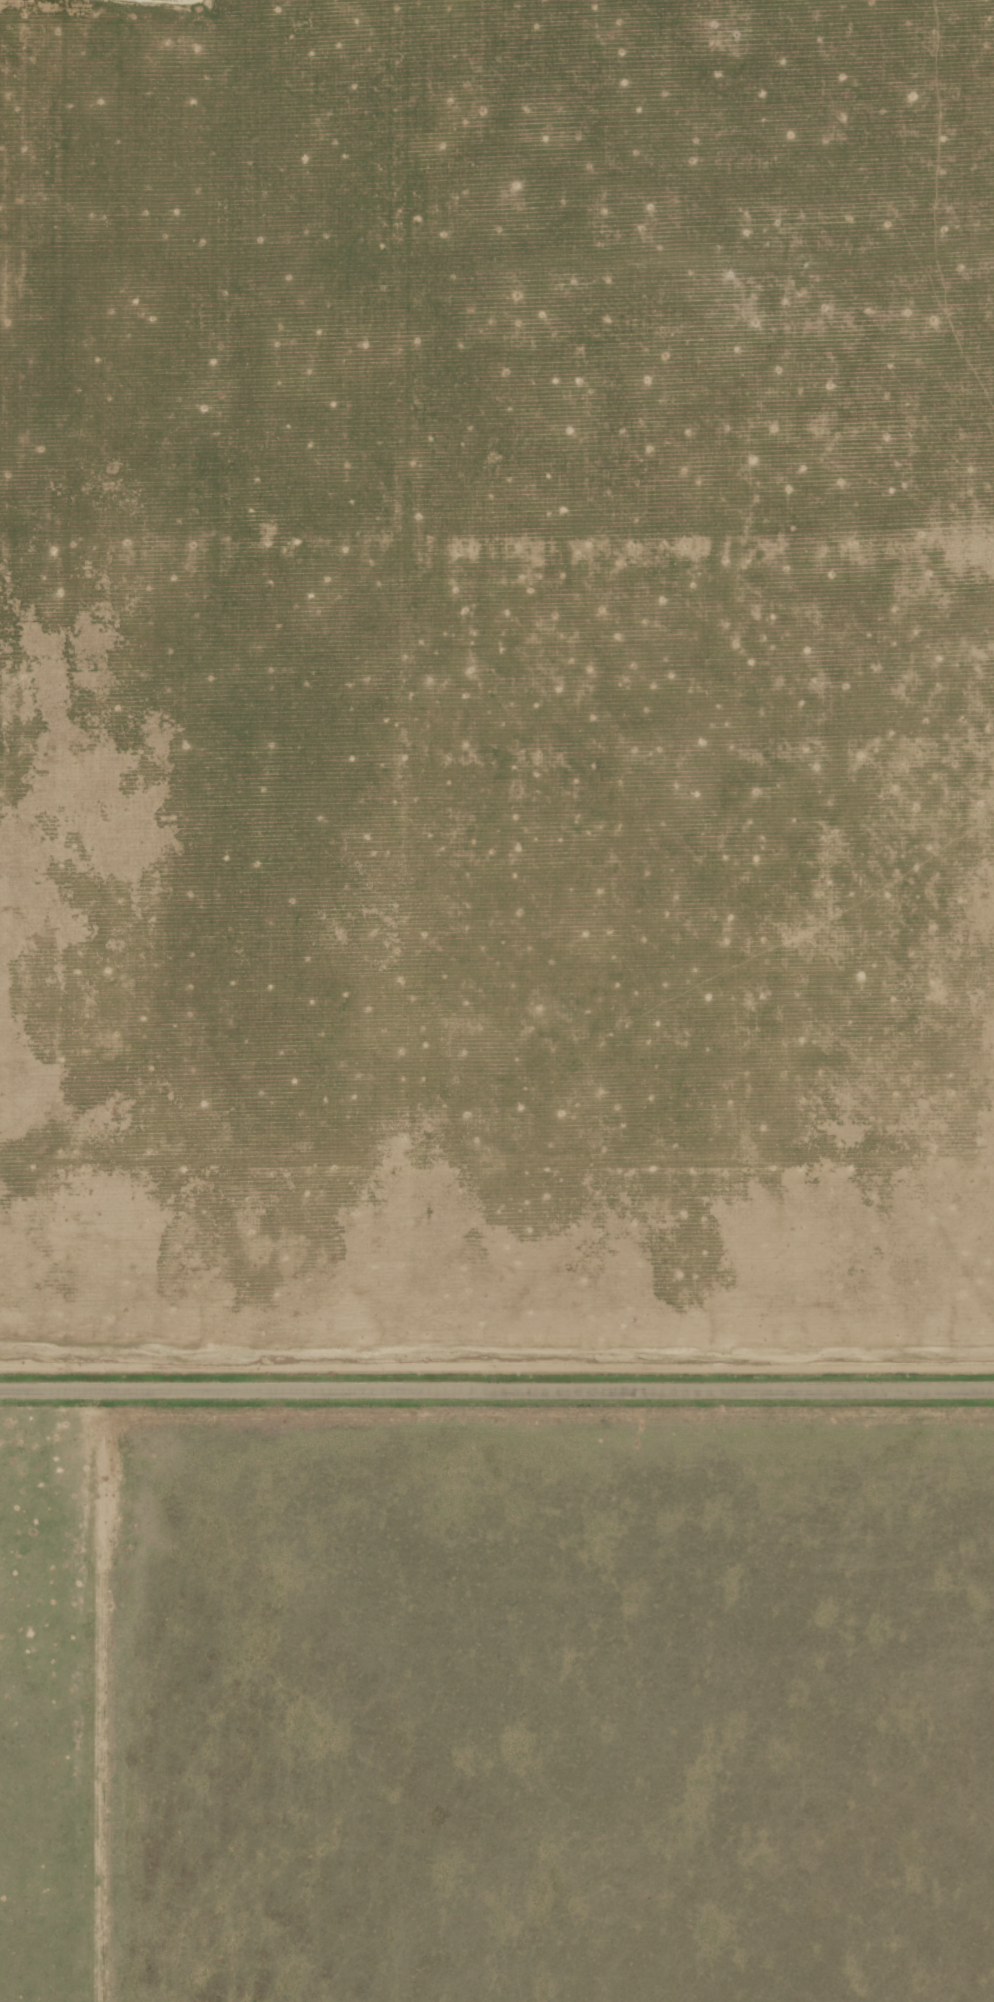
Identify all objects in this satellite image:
road: (497, 1387)

